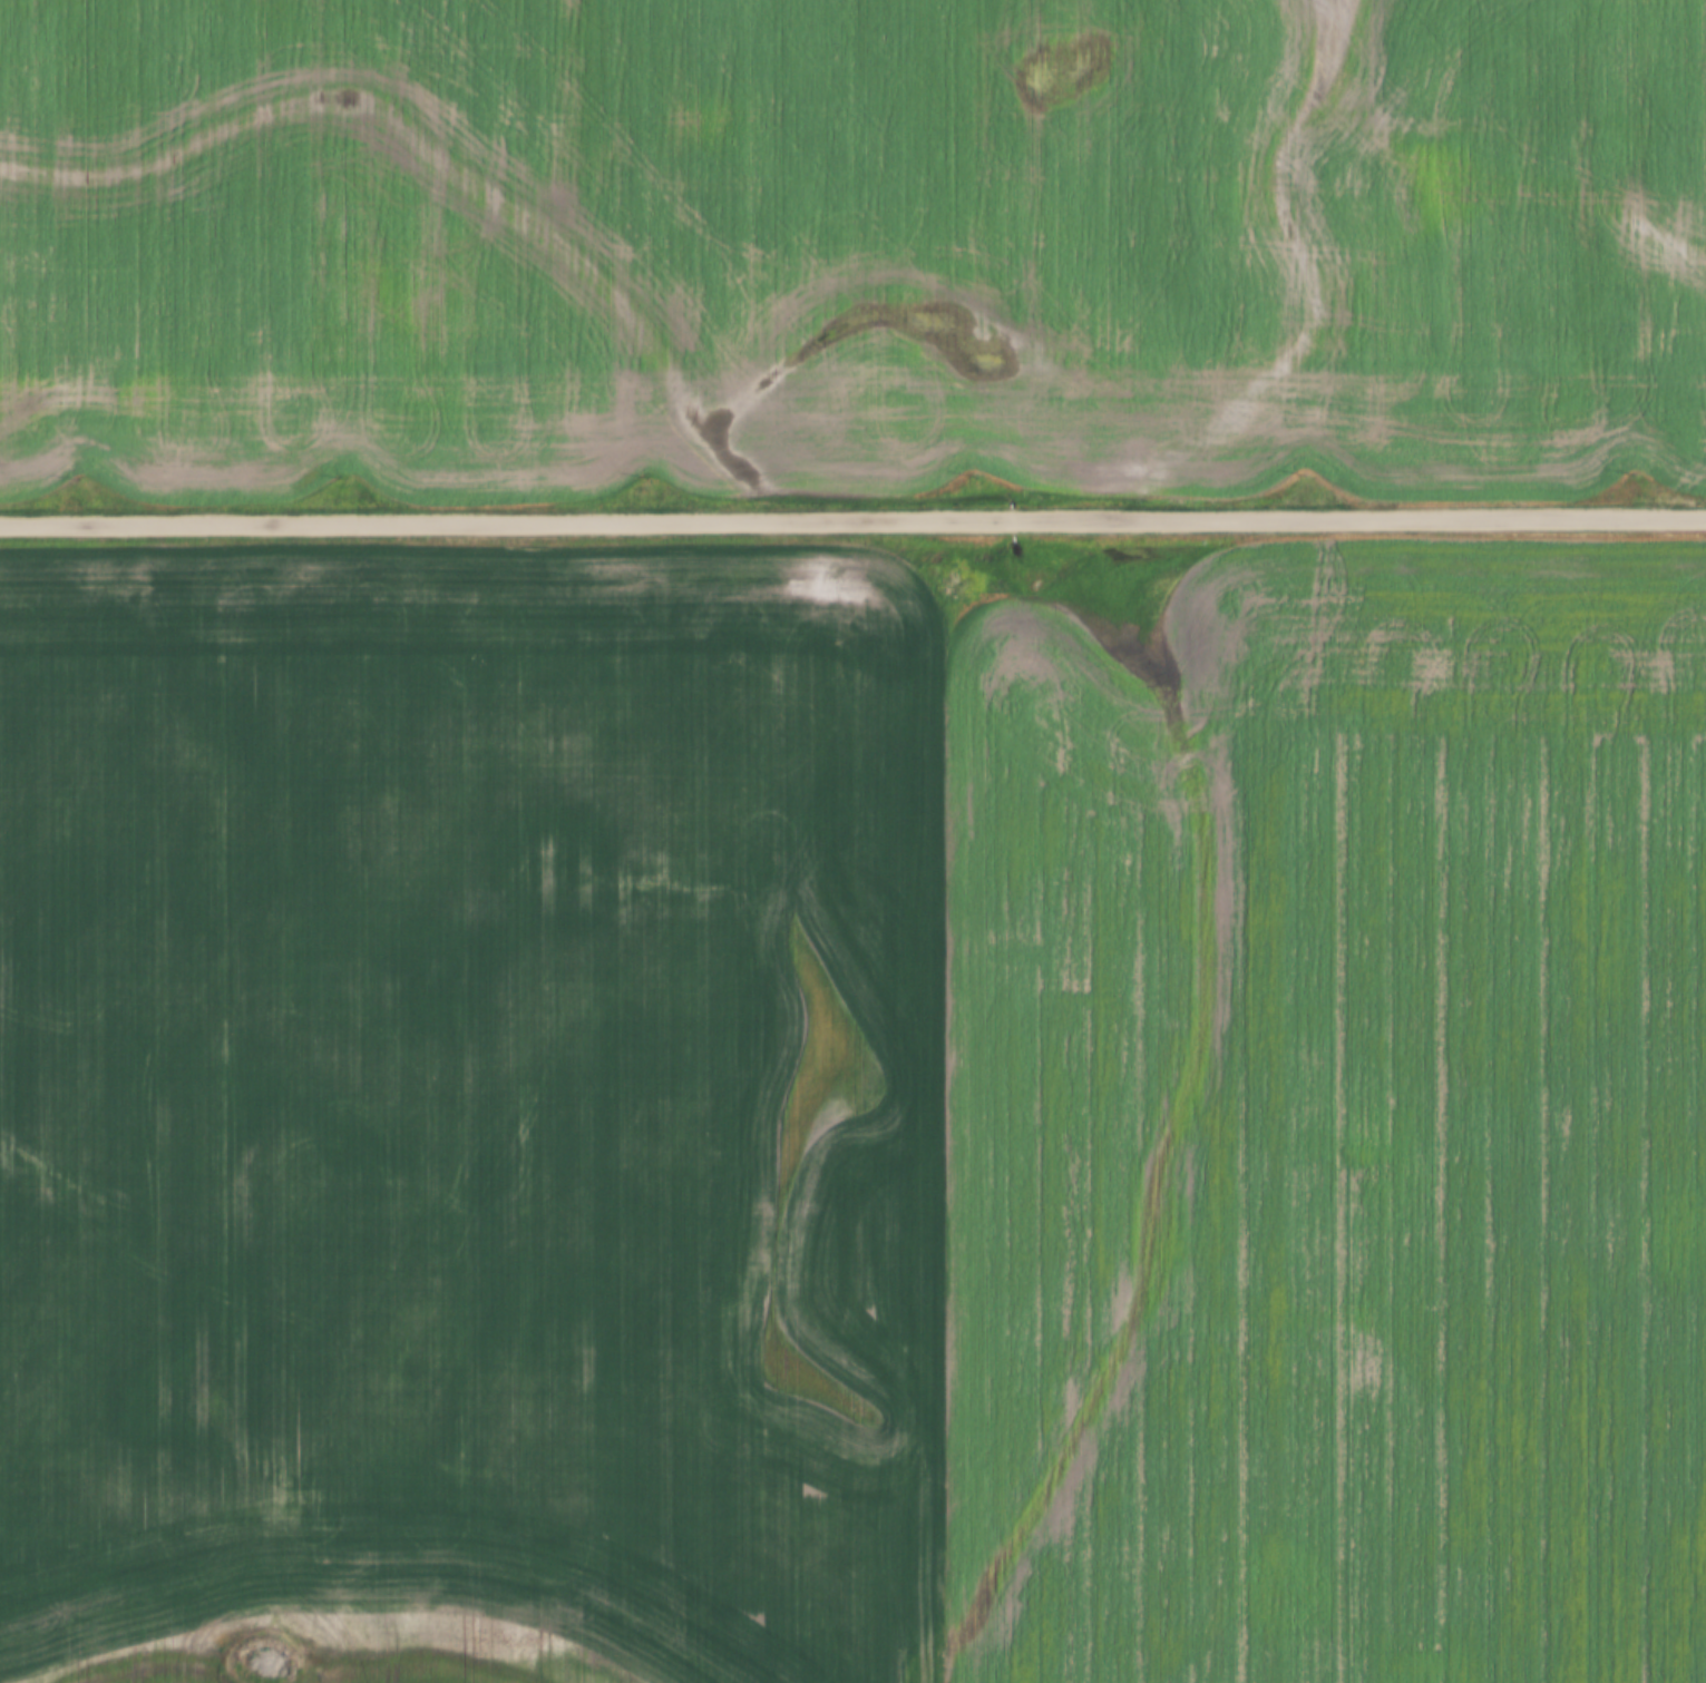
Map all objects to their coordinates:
road: (852, 522)

